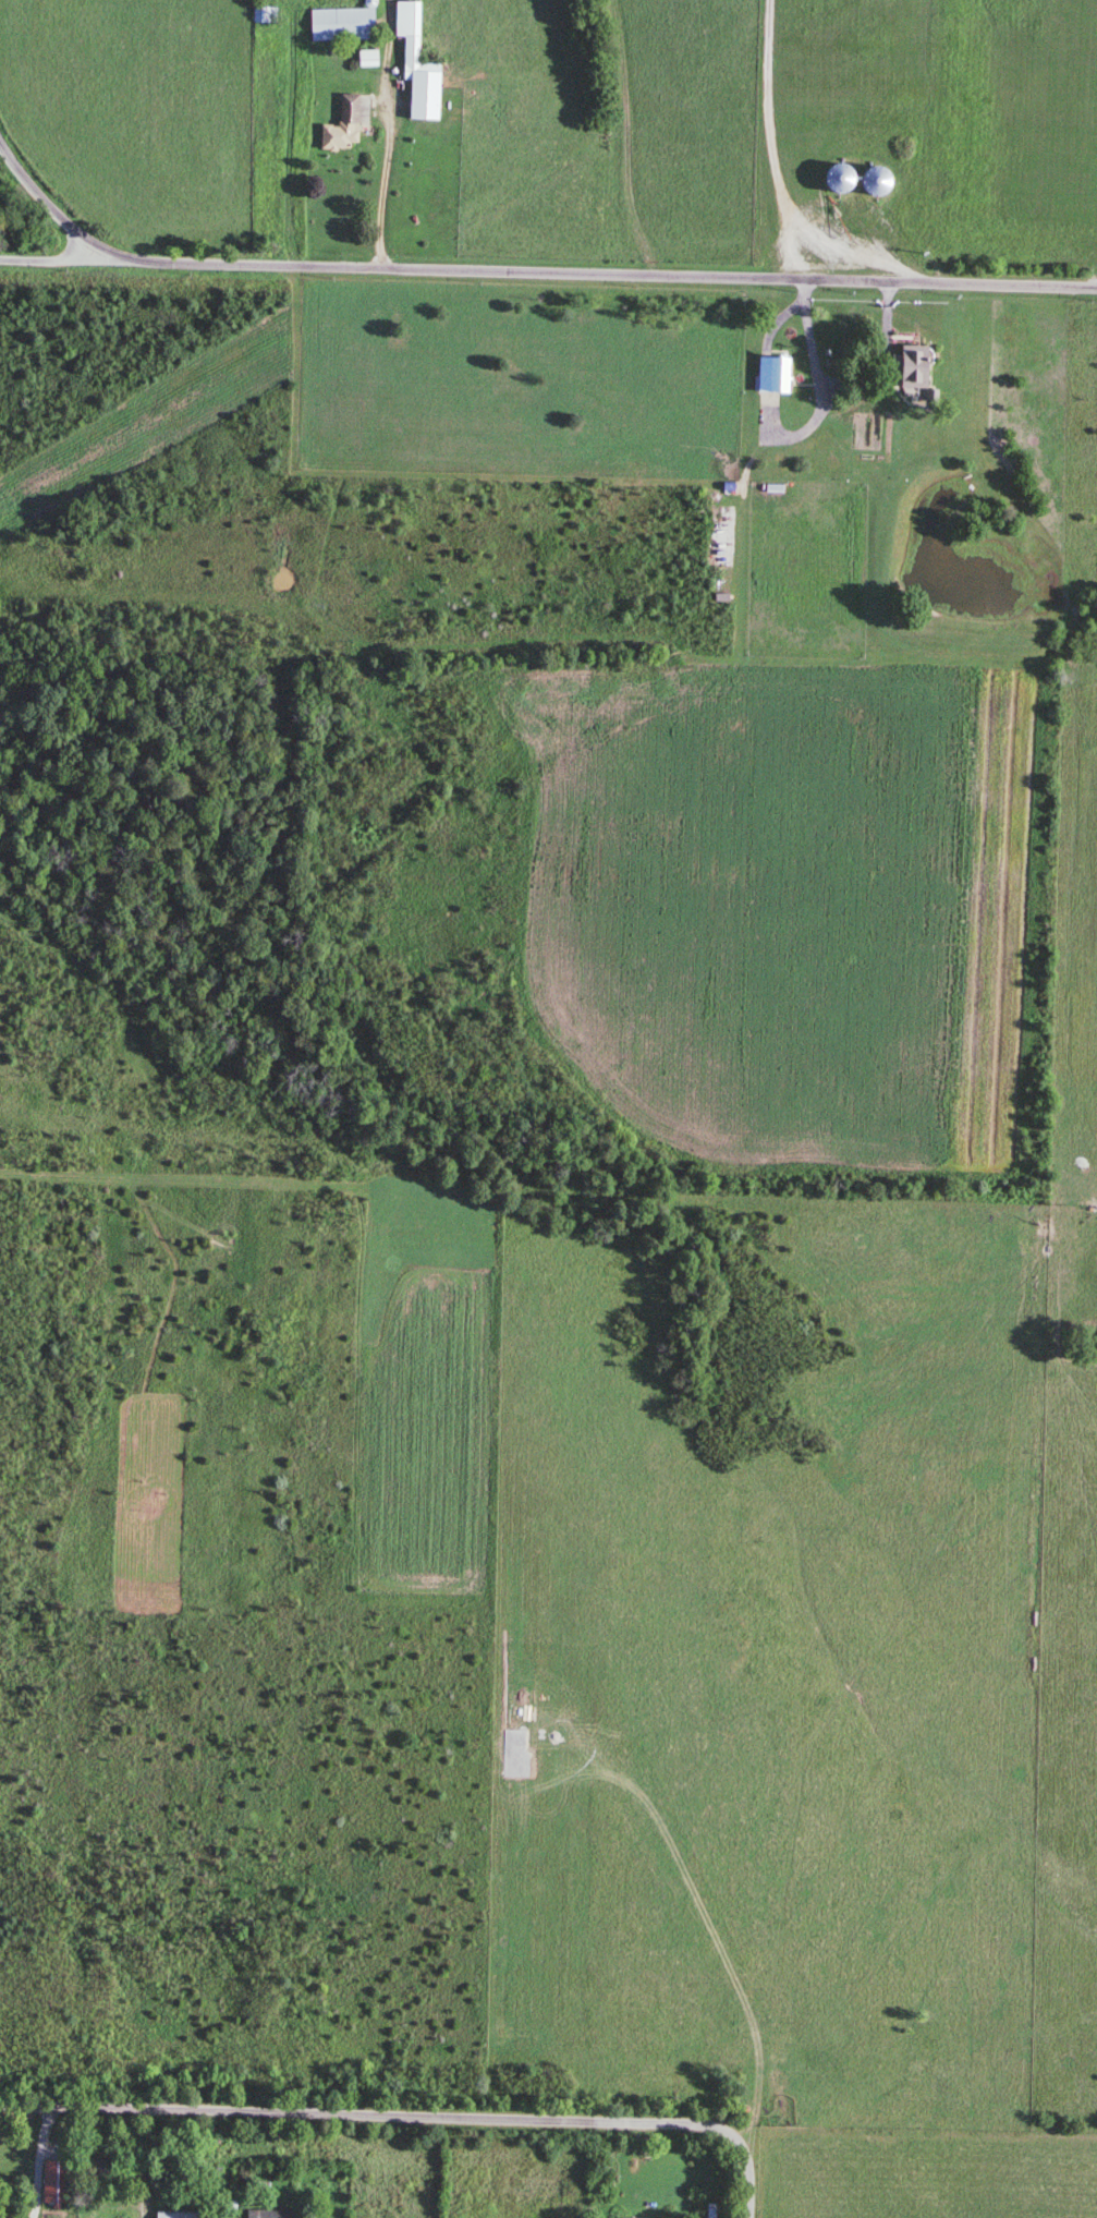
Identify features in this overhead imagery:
building: (345, 23)
building: (371, 57)
building: (422, 63)
building: (346, 125)
road: (627, 137)
road: (383, 190)
road: (56, 258)
road: (524, 271)
building: (916, 365)
building: (779, 372)
road: (412, 2116)
road: (146, 2164)
building: (100, 2169)
building: (711, 2209)
building: (272, 2213)
building: (179, 2214)
building: (648, 2217)

